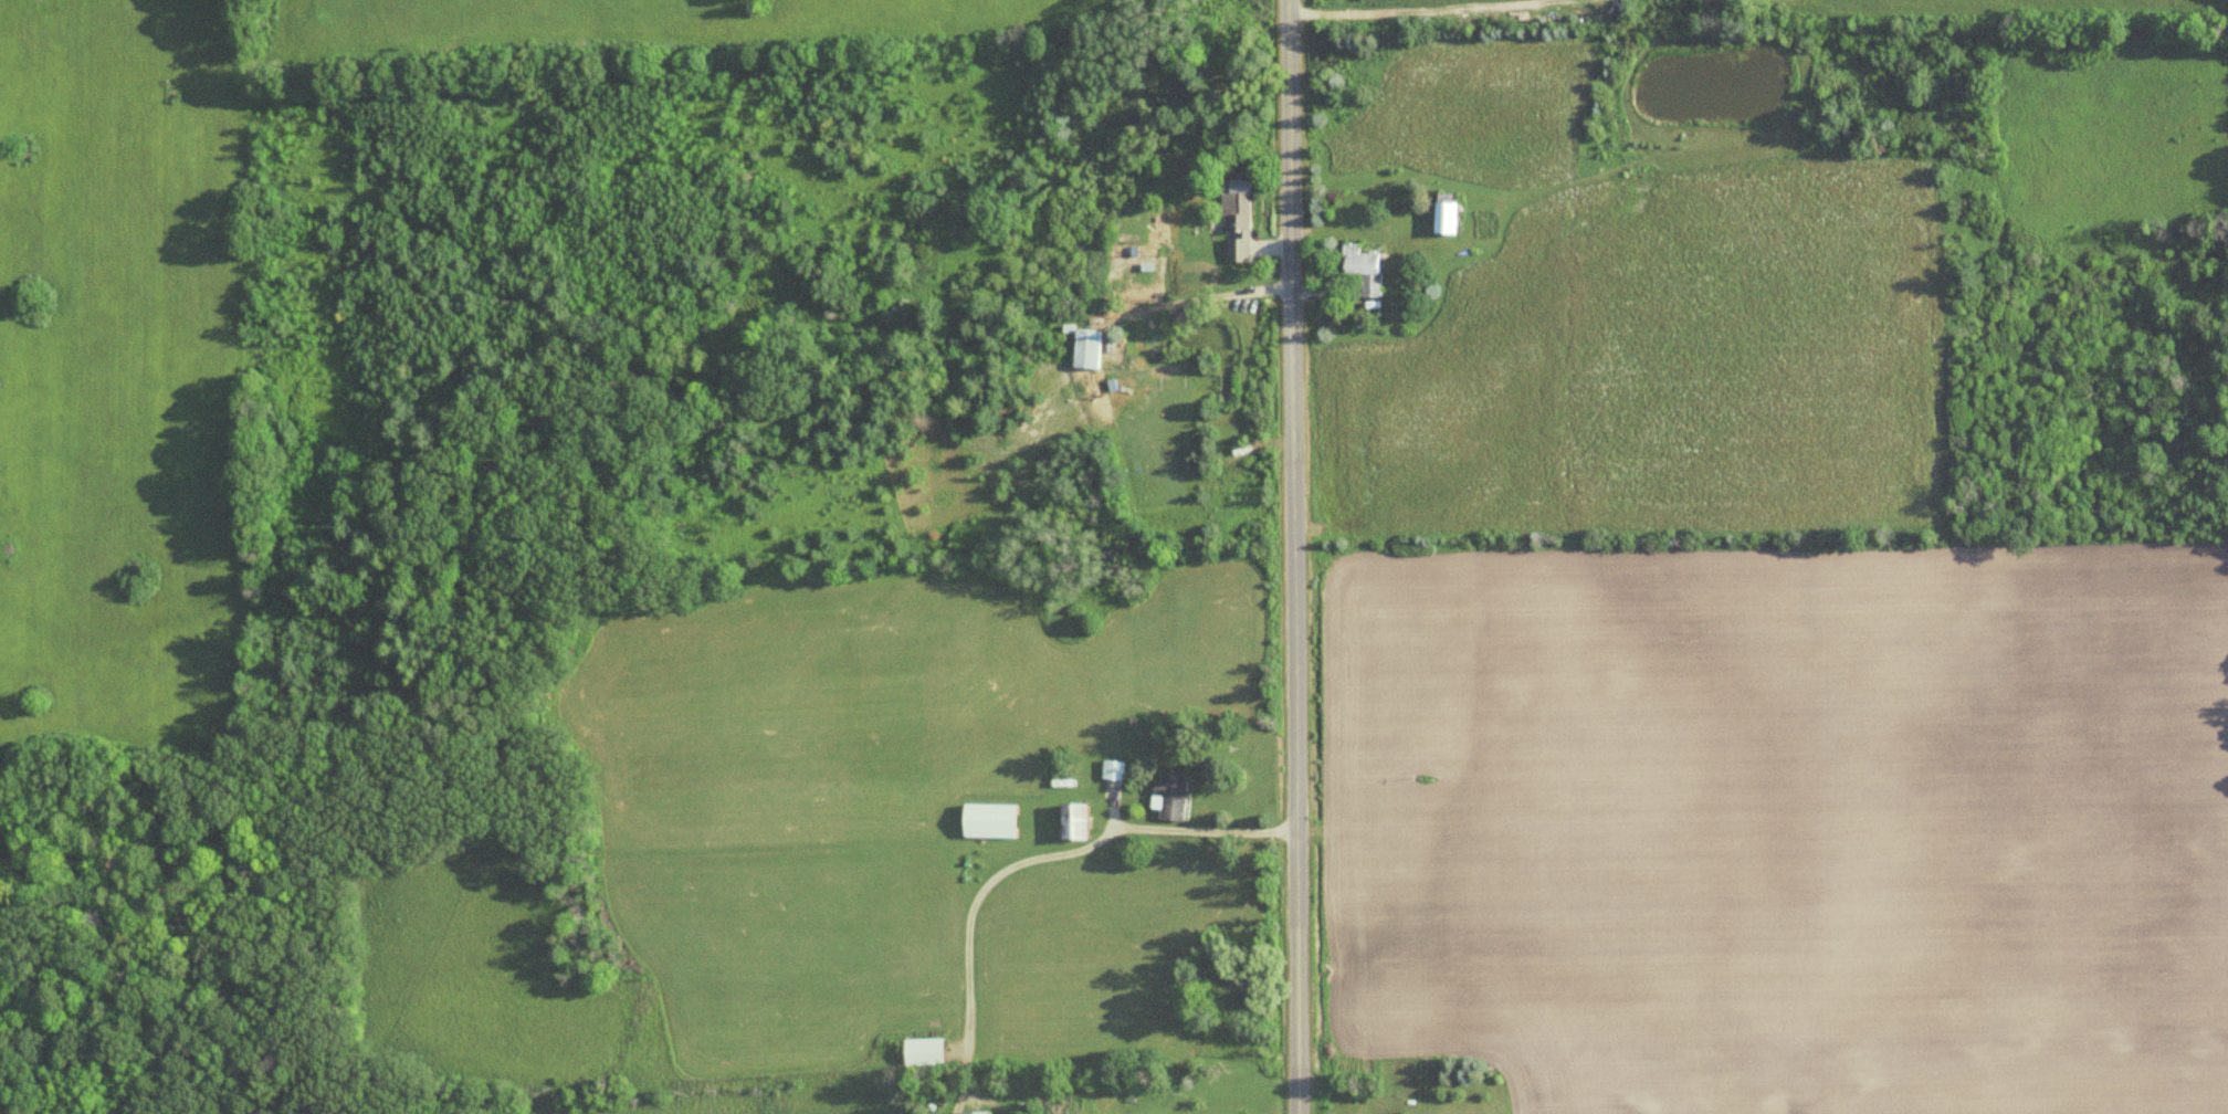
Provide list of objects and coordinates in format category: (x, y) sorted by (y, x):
building: (1451, 217)
building: (1238, 220)
building: (1148, 258)
building: (1367, 262)
building: (1091, 349)
crop: (119, 379)
road: (1289, 556)
building: (1114, 770)
building: (1174, 796)
building: (995, 820)
road: (1019, 860)
building: (931, 1052)
building: (978, 1112)

